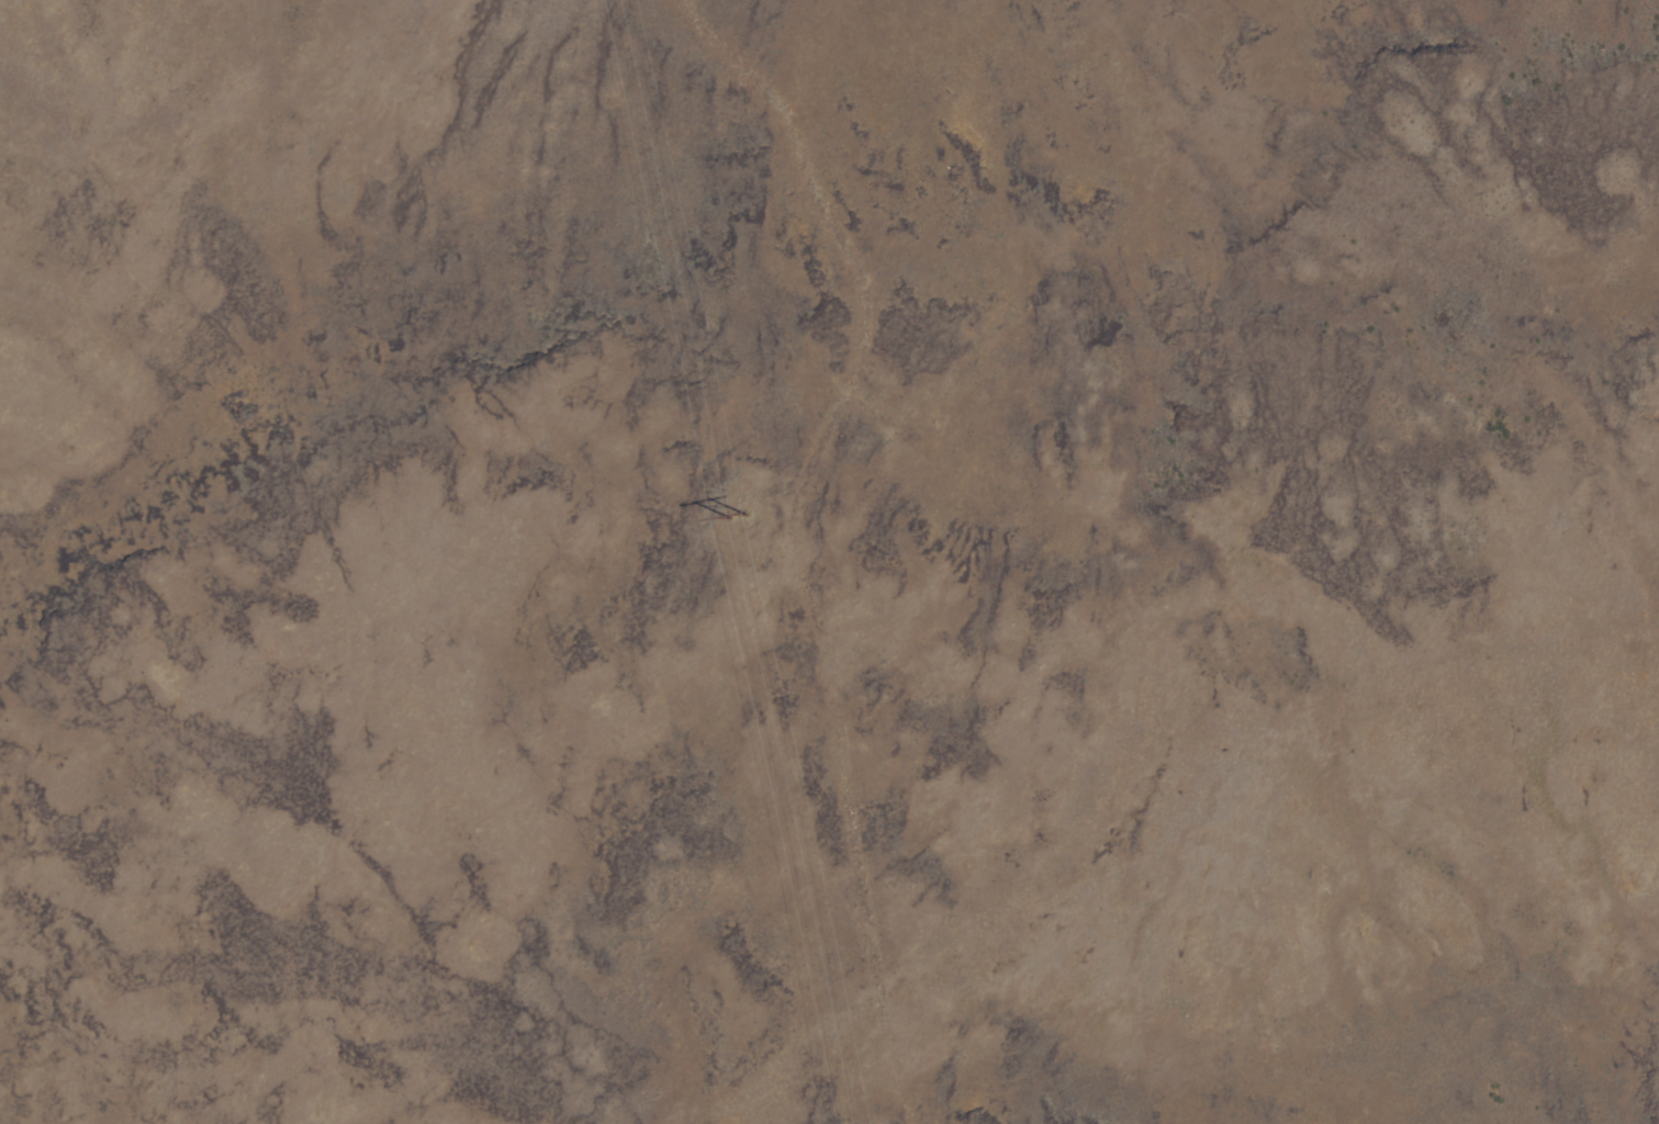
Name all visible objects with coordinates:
power tower: (739, 518)

